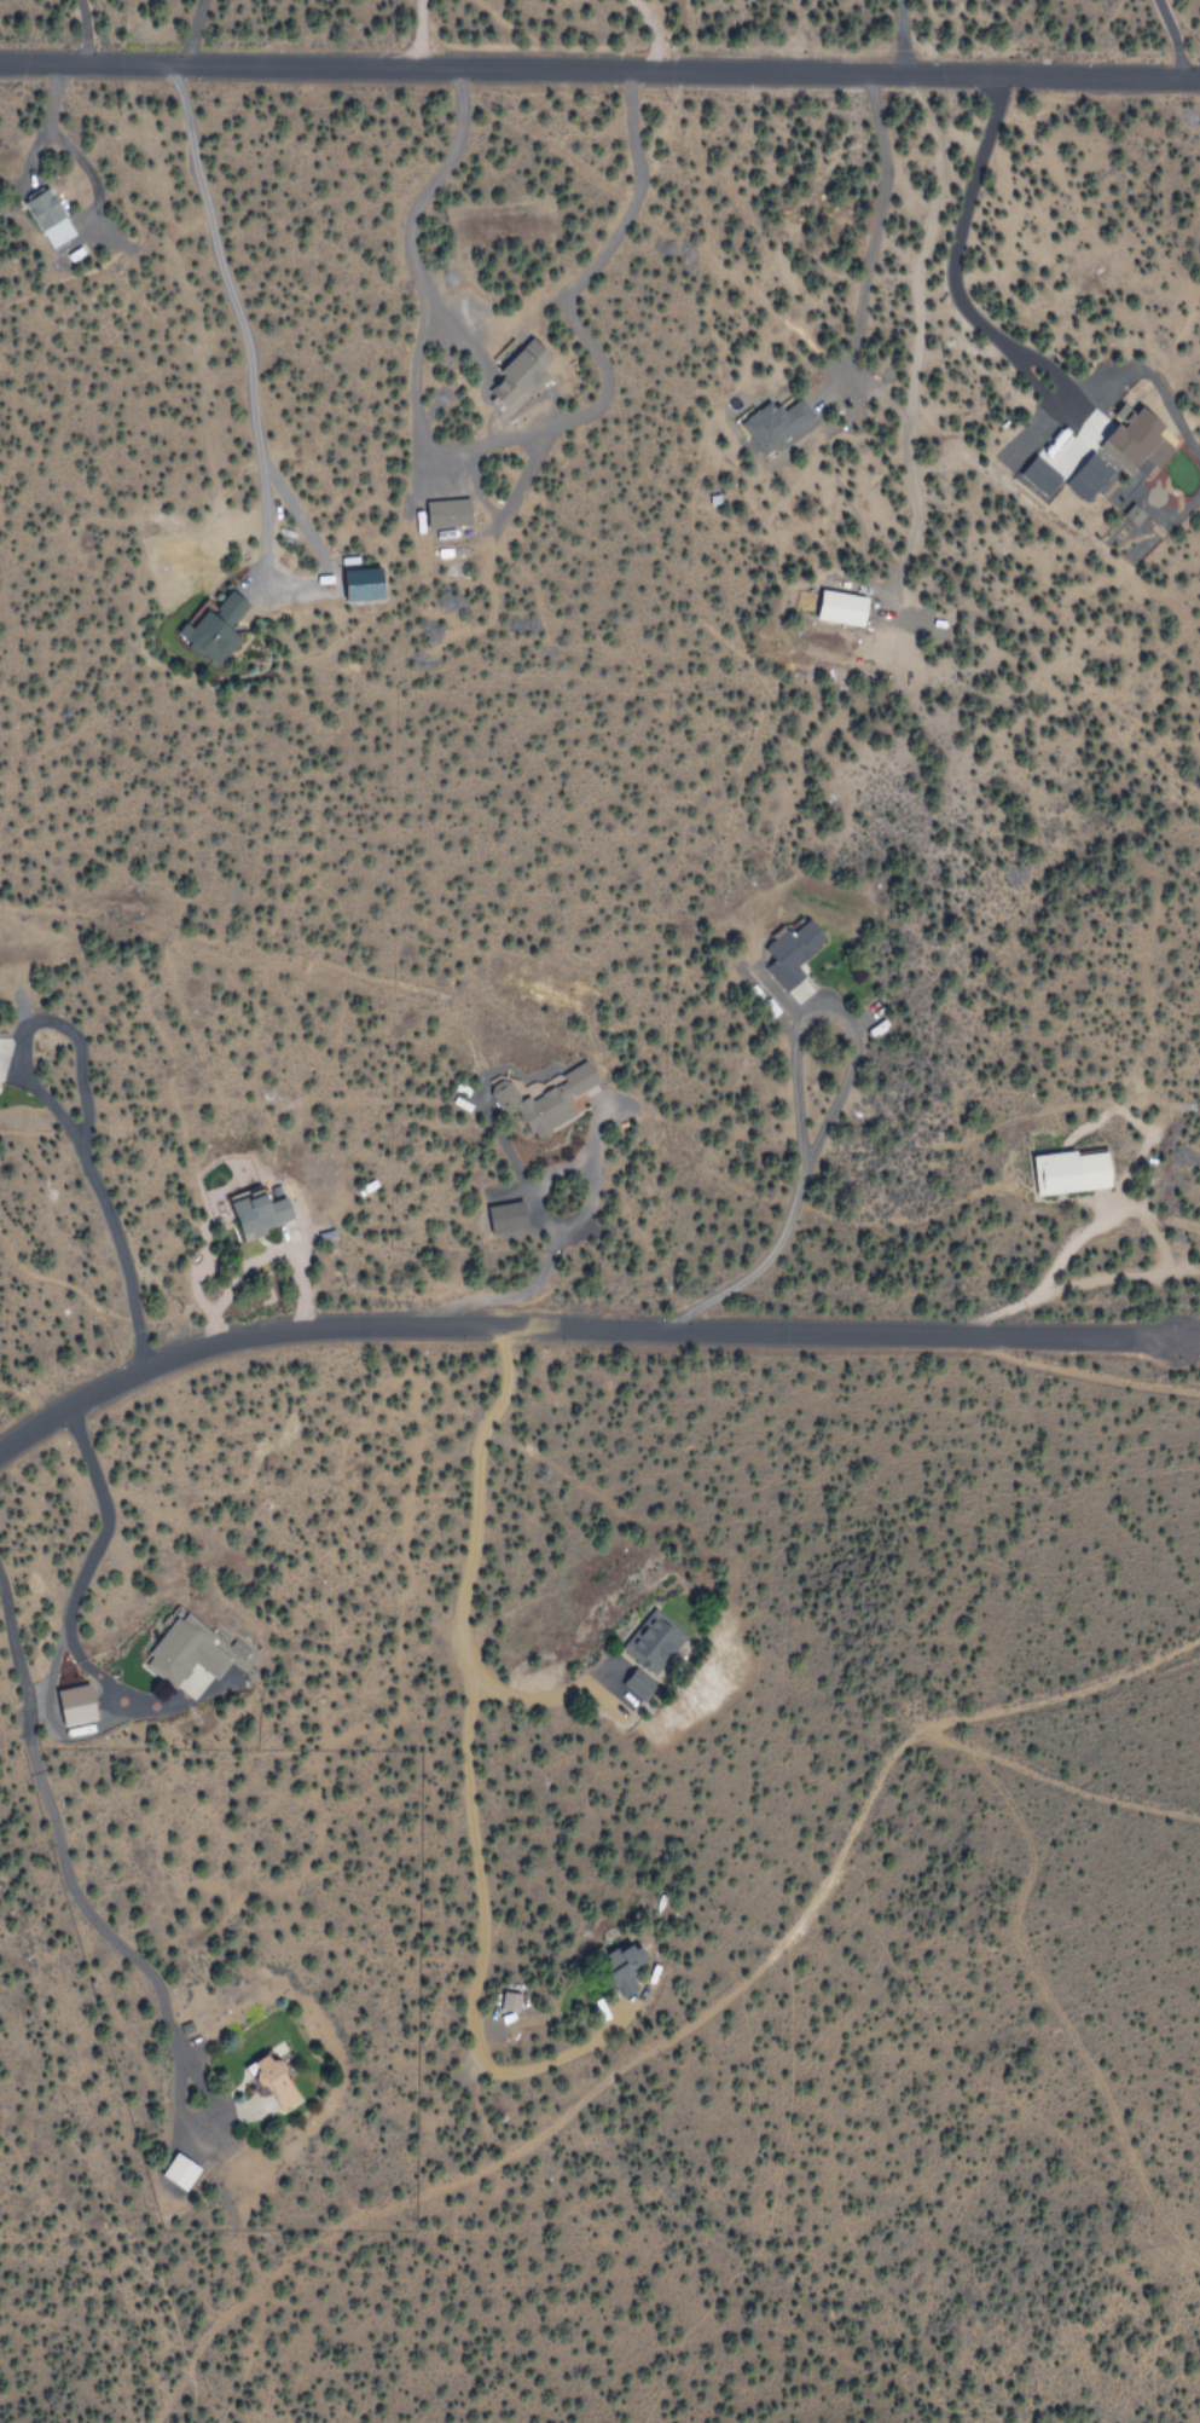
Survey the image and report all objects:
road: (599, 70)
building: (48, 218)
building: (511, 375)
building: (775, 423)
building: (1137, 434)
building: (1094, 470)
building: (1043, 475)
building: (441, 513)
building: (1137, 513)
building: (367, 583)
building: (841, 607)
building: (205, 634)
building: (792, 953)
building: (1, 1058)
building: (543, 1100)
building: (1071, 1172)
building: (261, 1213)
building: (505, 1218)
road: (575, 1326)
building: (647, 1641)
building: (242, 1647)
building: (184, 1653)
building: (634, 1688)
building: (80, 1704)
building: (622, 1967)
building: (509, 2001)
building: (272, 2081)
building: (179, 2172)

